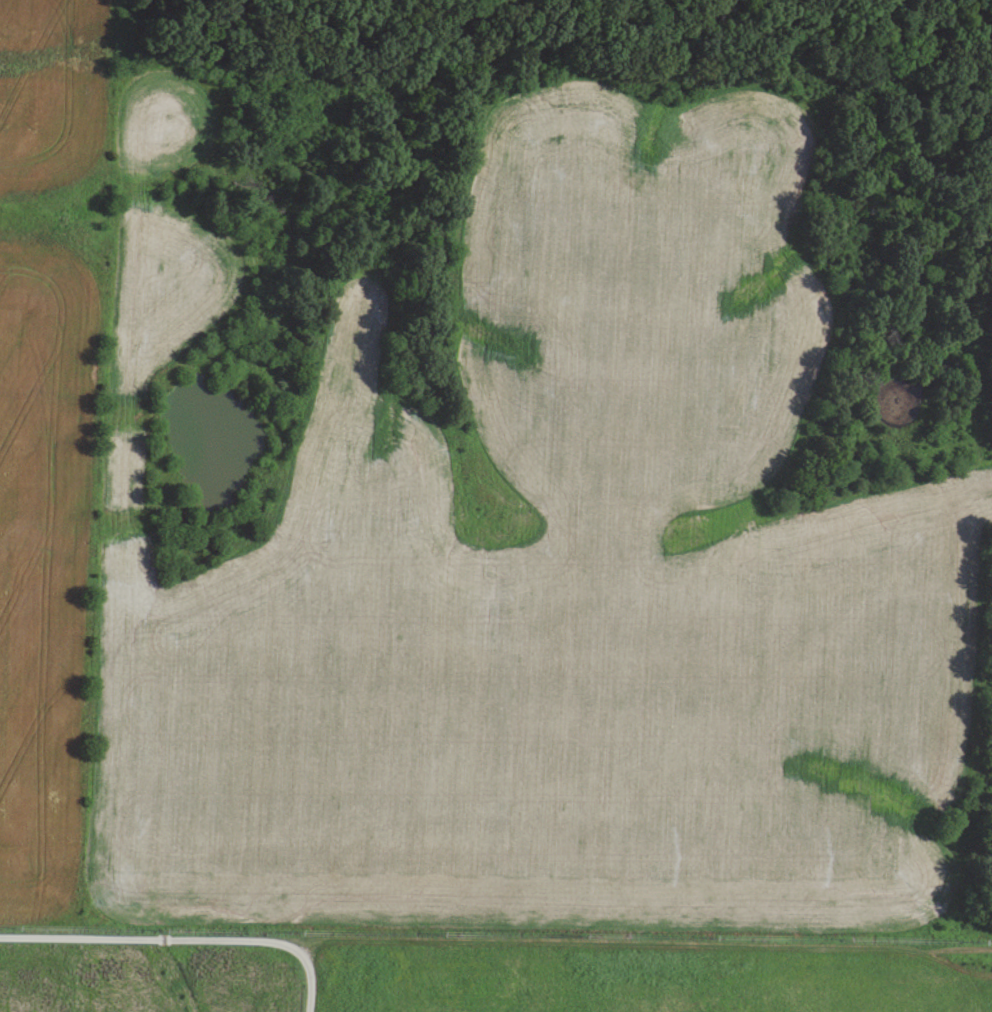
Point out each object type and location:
road: (180, 940)

